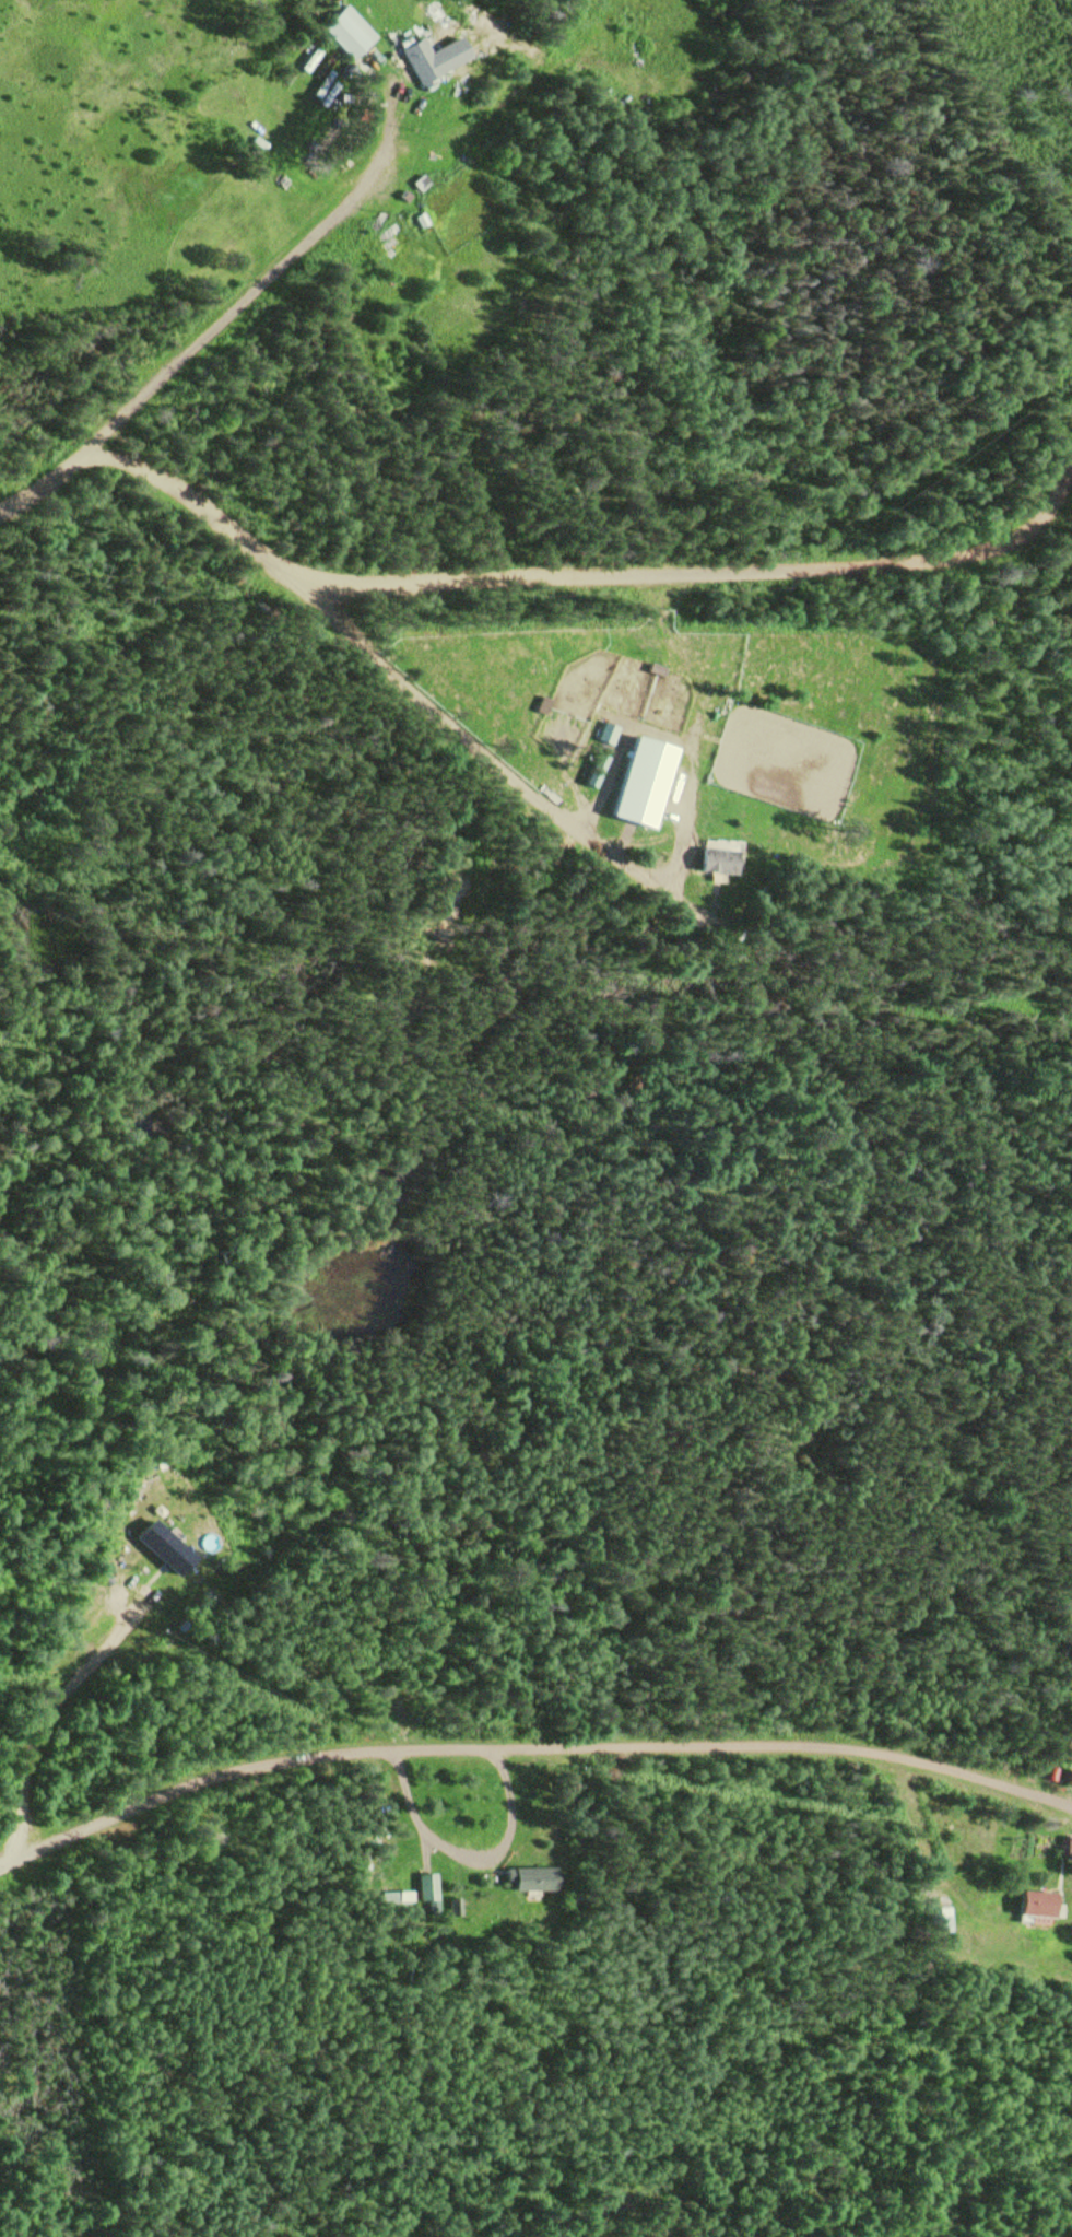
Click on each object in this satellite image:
building: (342, 32)
building: (414, 60)
road: (179, 361)
road: (597, 578)
building: (635, 780)
building: (711, 858)
park: (47, 1367)
road: (530, 1746)
building: (1065, 1847)
building: (528, 1878)
building: (424, 1890)
building: (1029, 1904)

